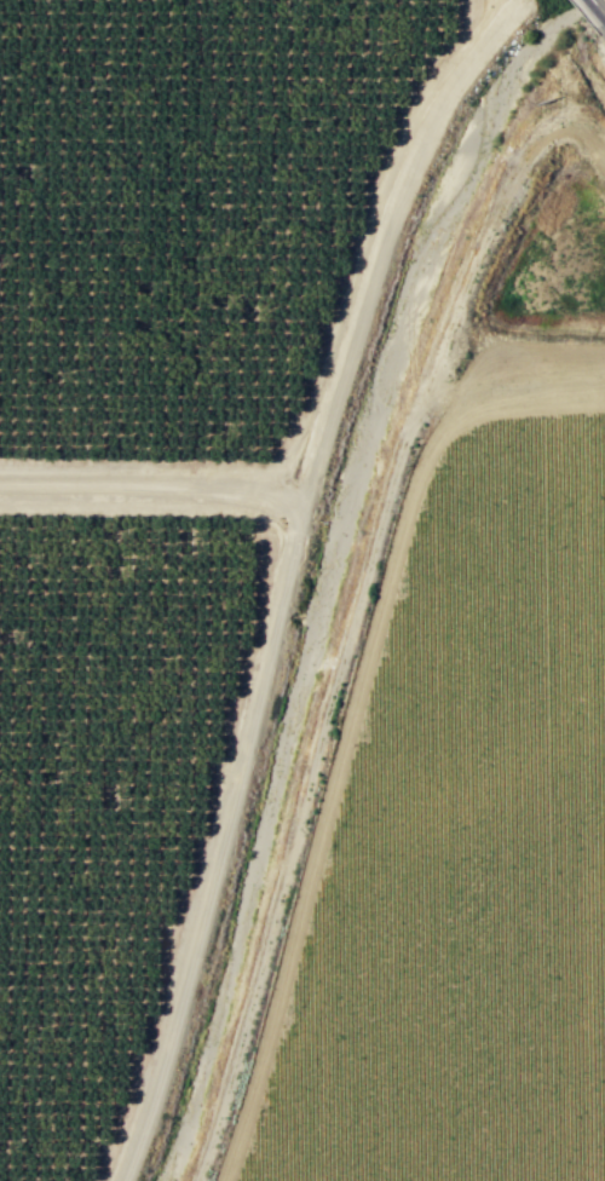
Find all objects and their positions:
road: (598, 7)
road: (368, 238)
road: (351, 628)
road: (259, 702)

